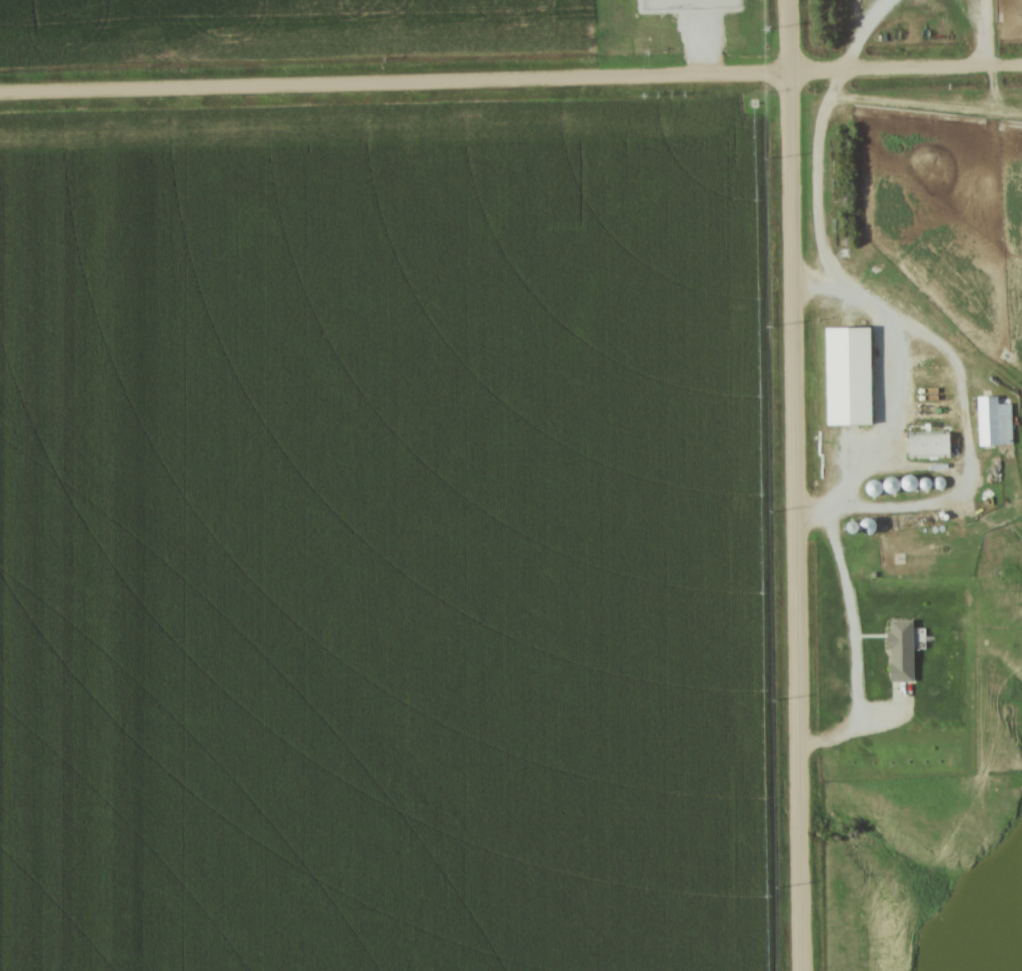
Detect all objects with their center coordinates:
building: (689, 5)
road: (857, 33)
road: (511, 79)
road: (929, 332)
building: (991, 422)
building: (926, 445)
building: (895, 473)
silo: (895, 473)
building: (911, 474)
building: (926, 475)
building: (878, 477)
silo: (878, 477)
building: (860, 480)
silo: (860, 480)
road: (796, 485)
building: (854, 519)
silo: (854, 519)
building: (839, 522)

